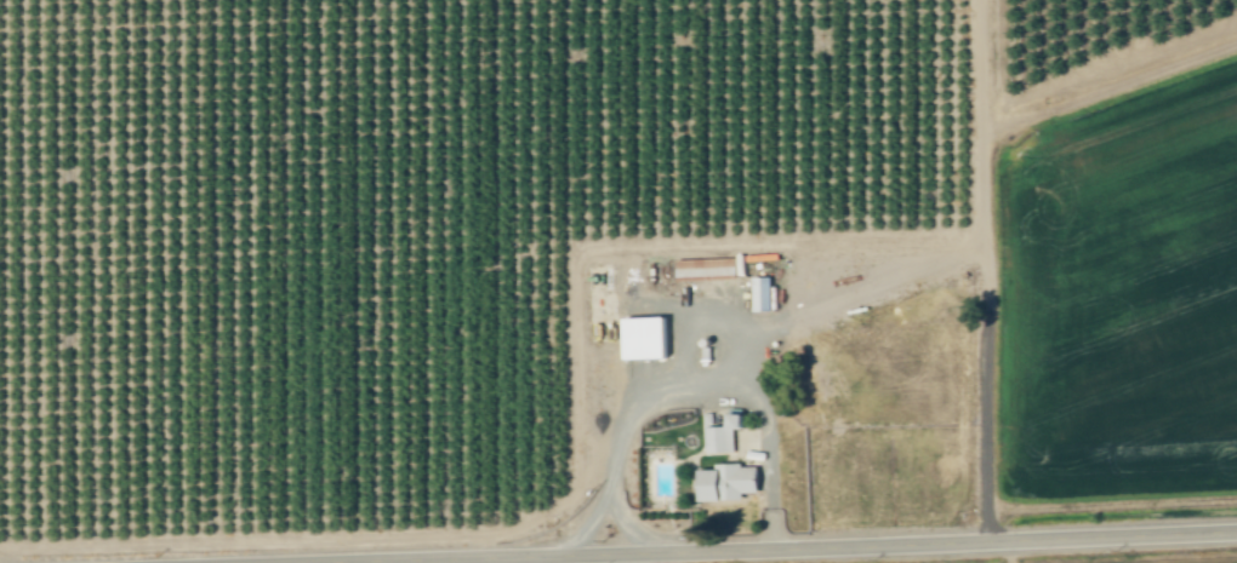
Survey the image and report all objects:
building: (711, 269)
road: (988, 271)
building: (763, 295)
building: (646, 339)
road: (747, 375)
road: (770, 464)
building: (726, 483)
road: (836, 550)

